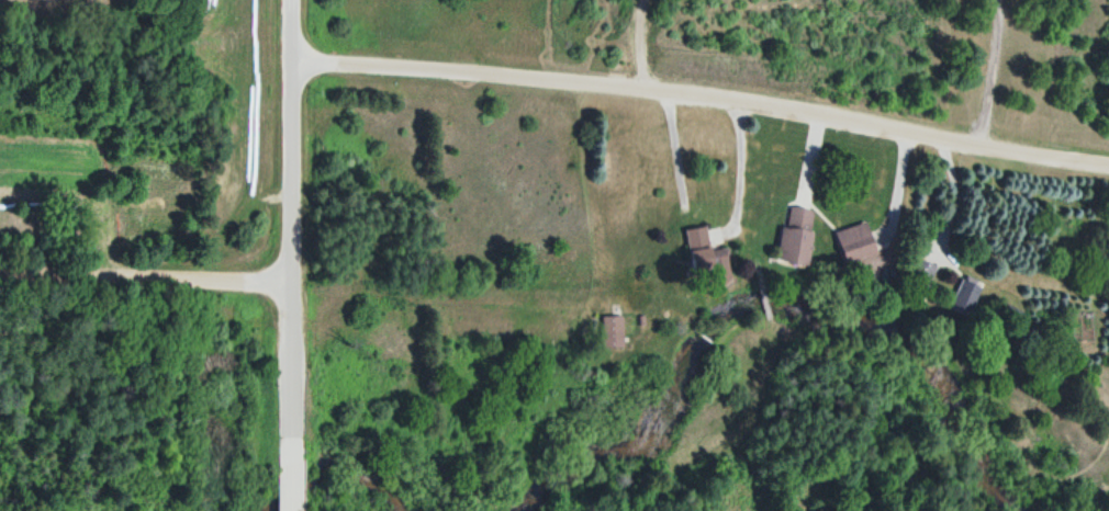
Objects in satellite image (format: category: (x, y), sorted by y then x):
road: (703, 93)
road: (290, 212)
building: (794, 235)
building: (853, 241)
building: (696, 247)
road: (144, 272)
building: (923, 275)
river: (769, 300)
road: (290, 467)
river: (333, 467)

